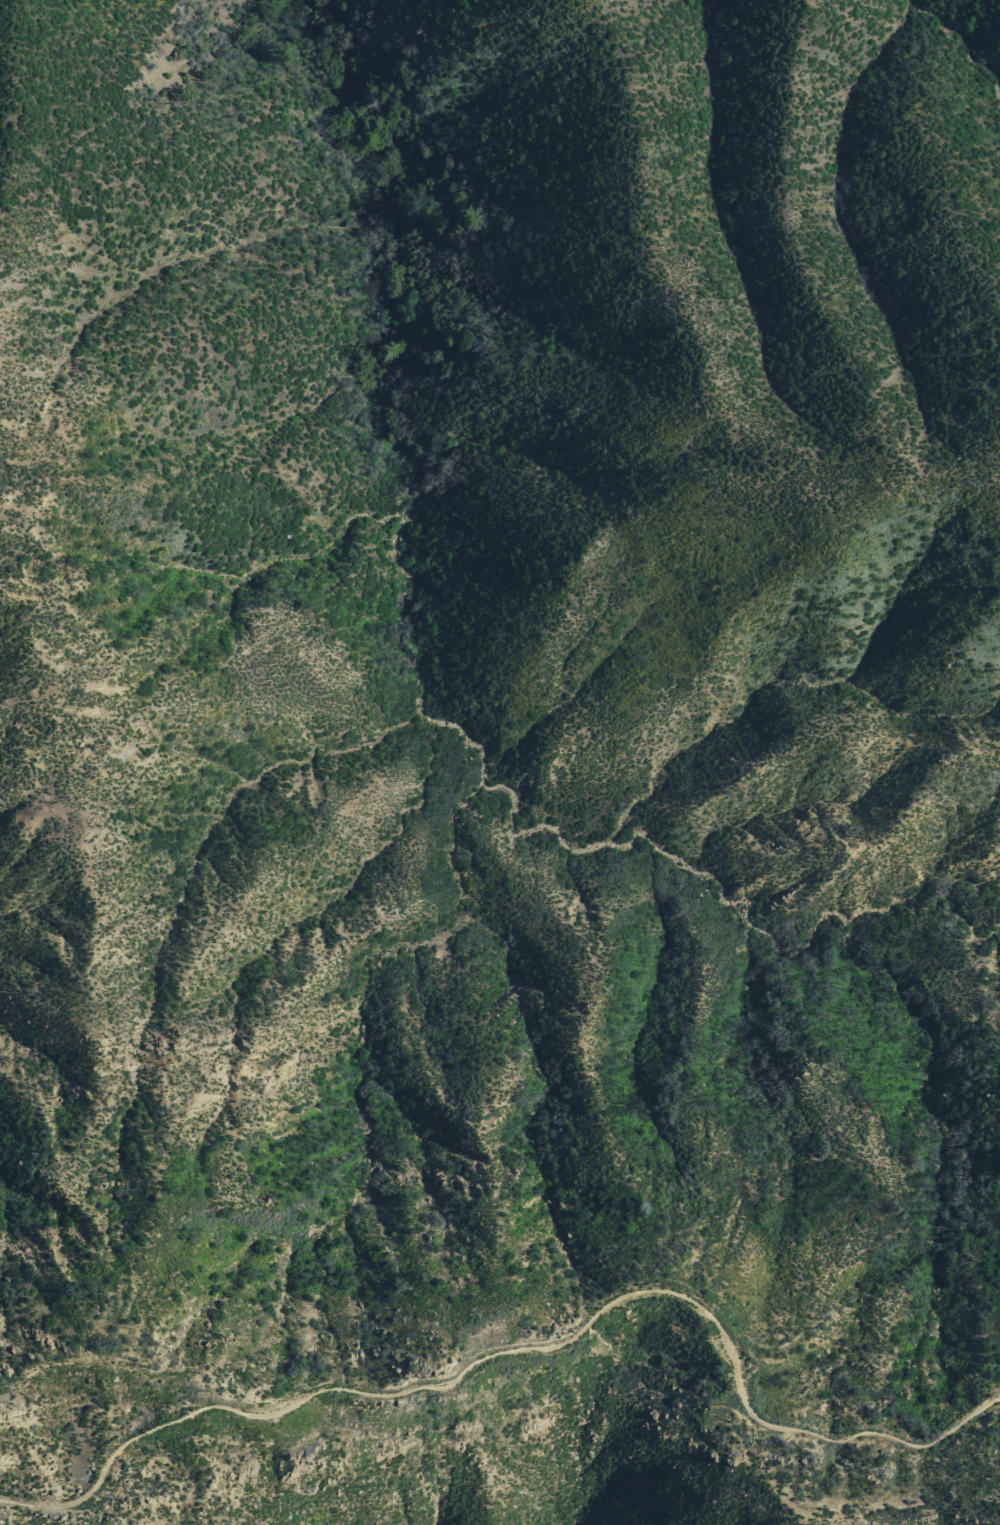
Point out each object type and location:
road: (534, 1350)

